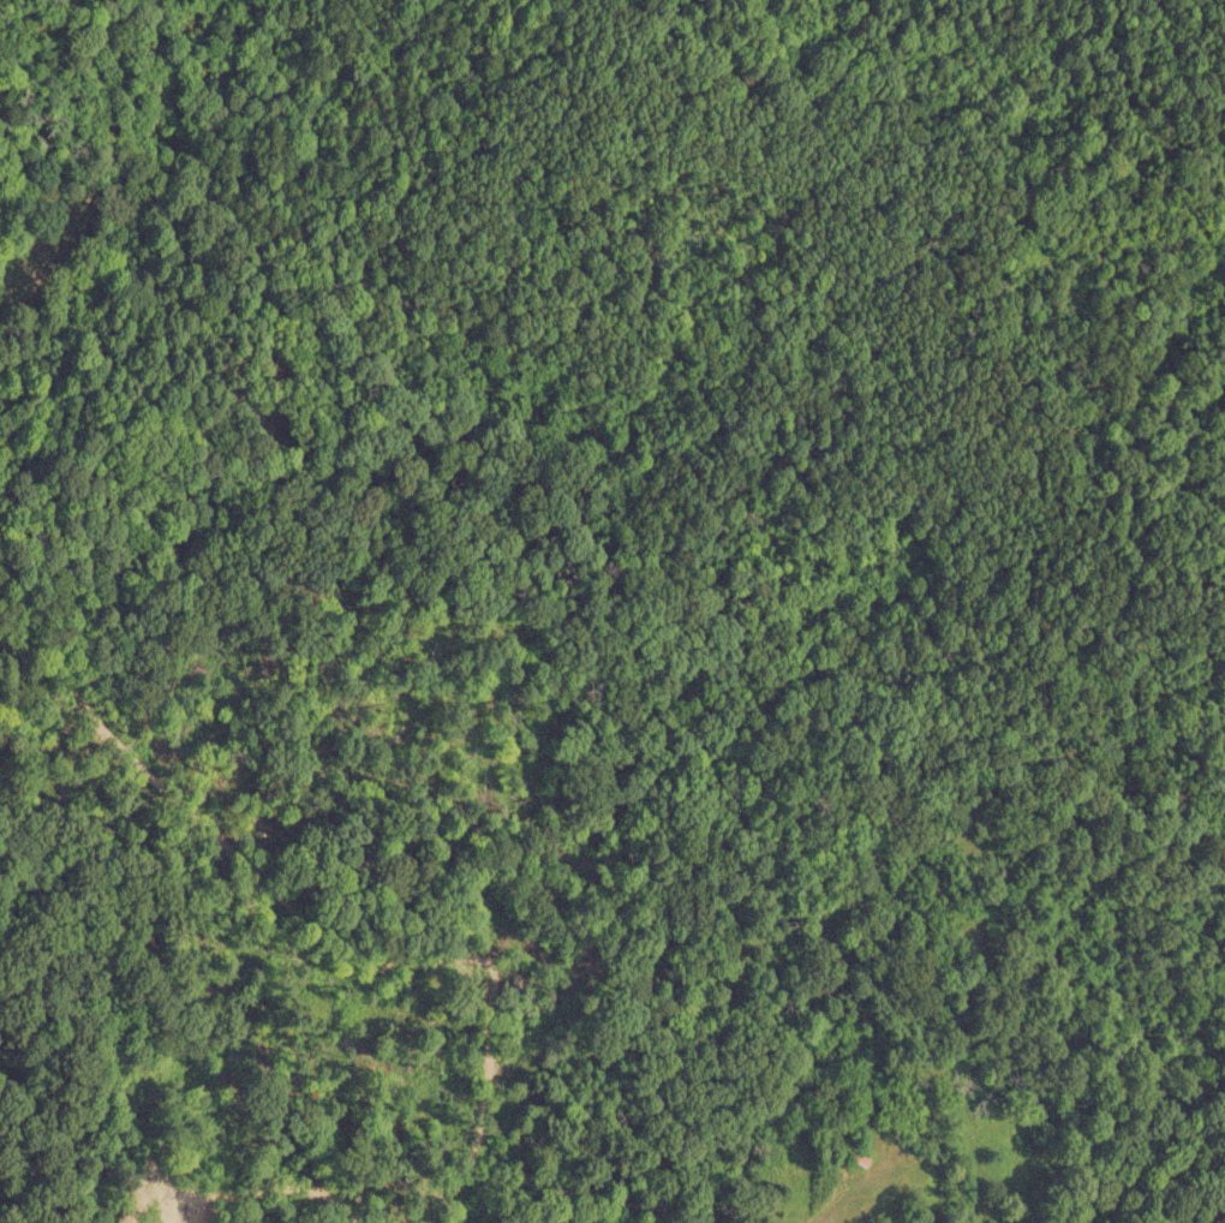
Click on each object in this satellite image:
building: (856, 1158)

